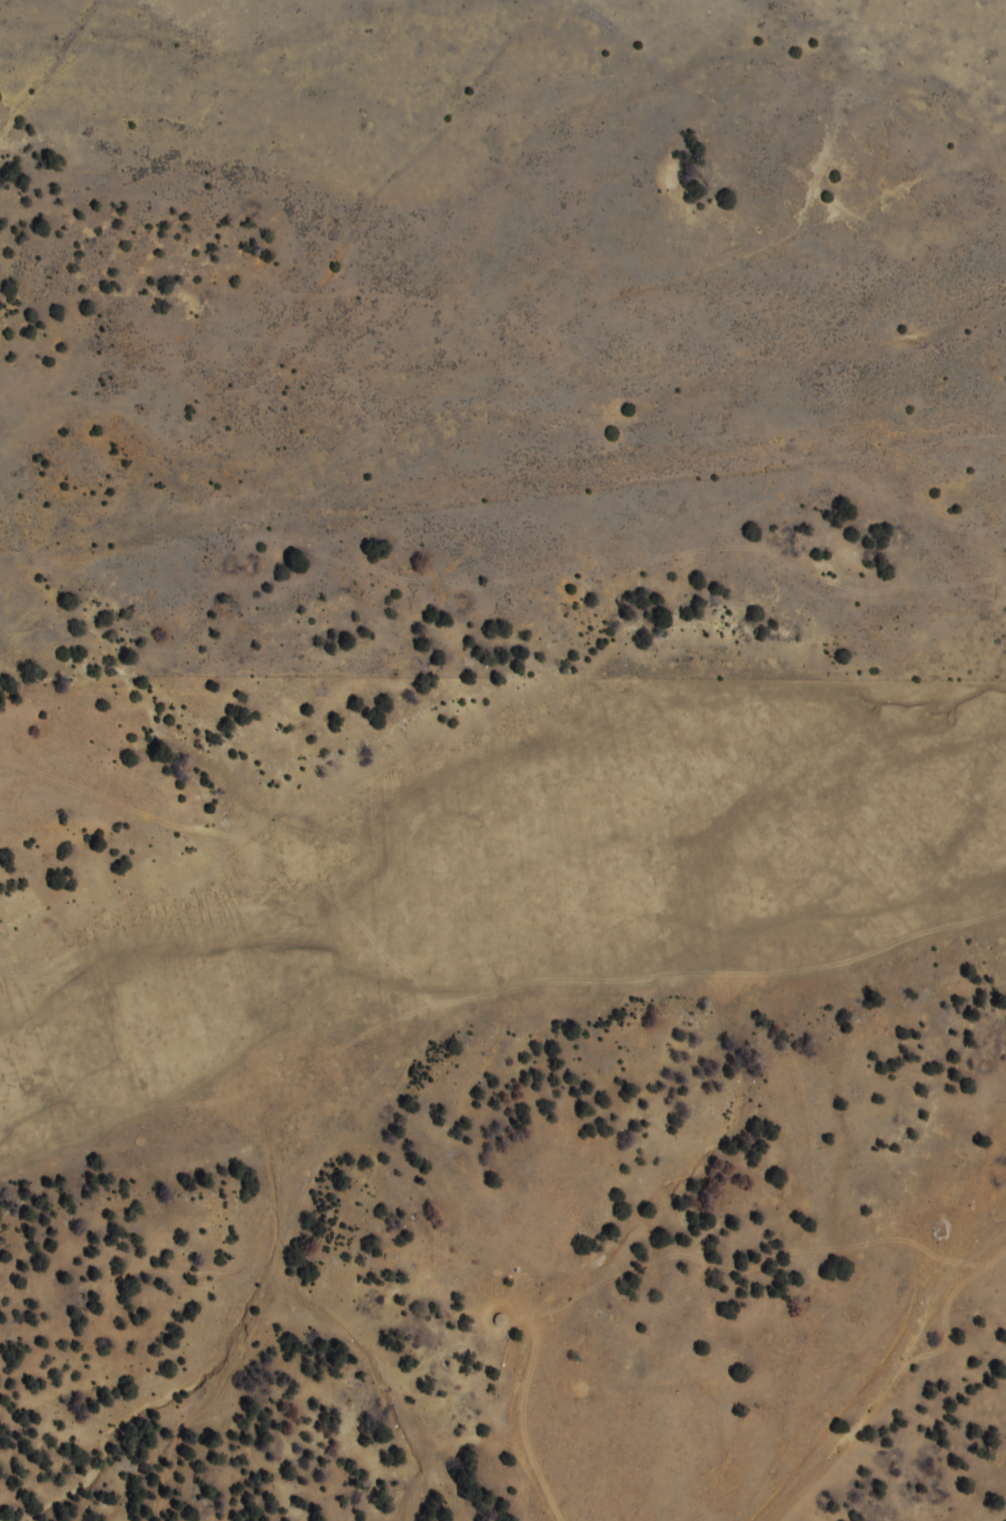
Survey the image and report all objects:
road: (521, 1434)

